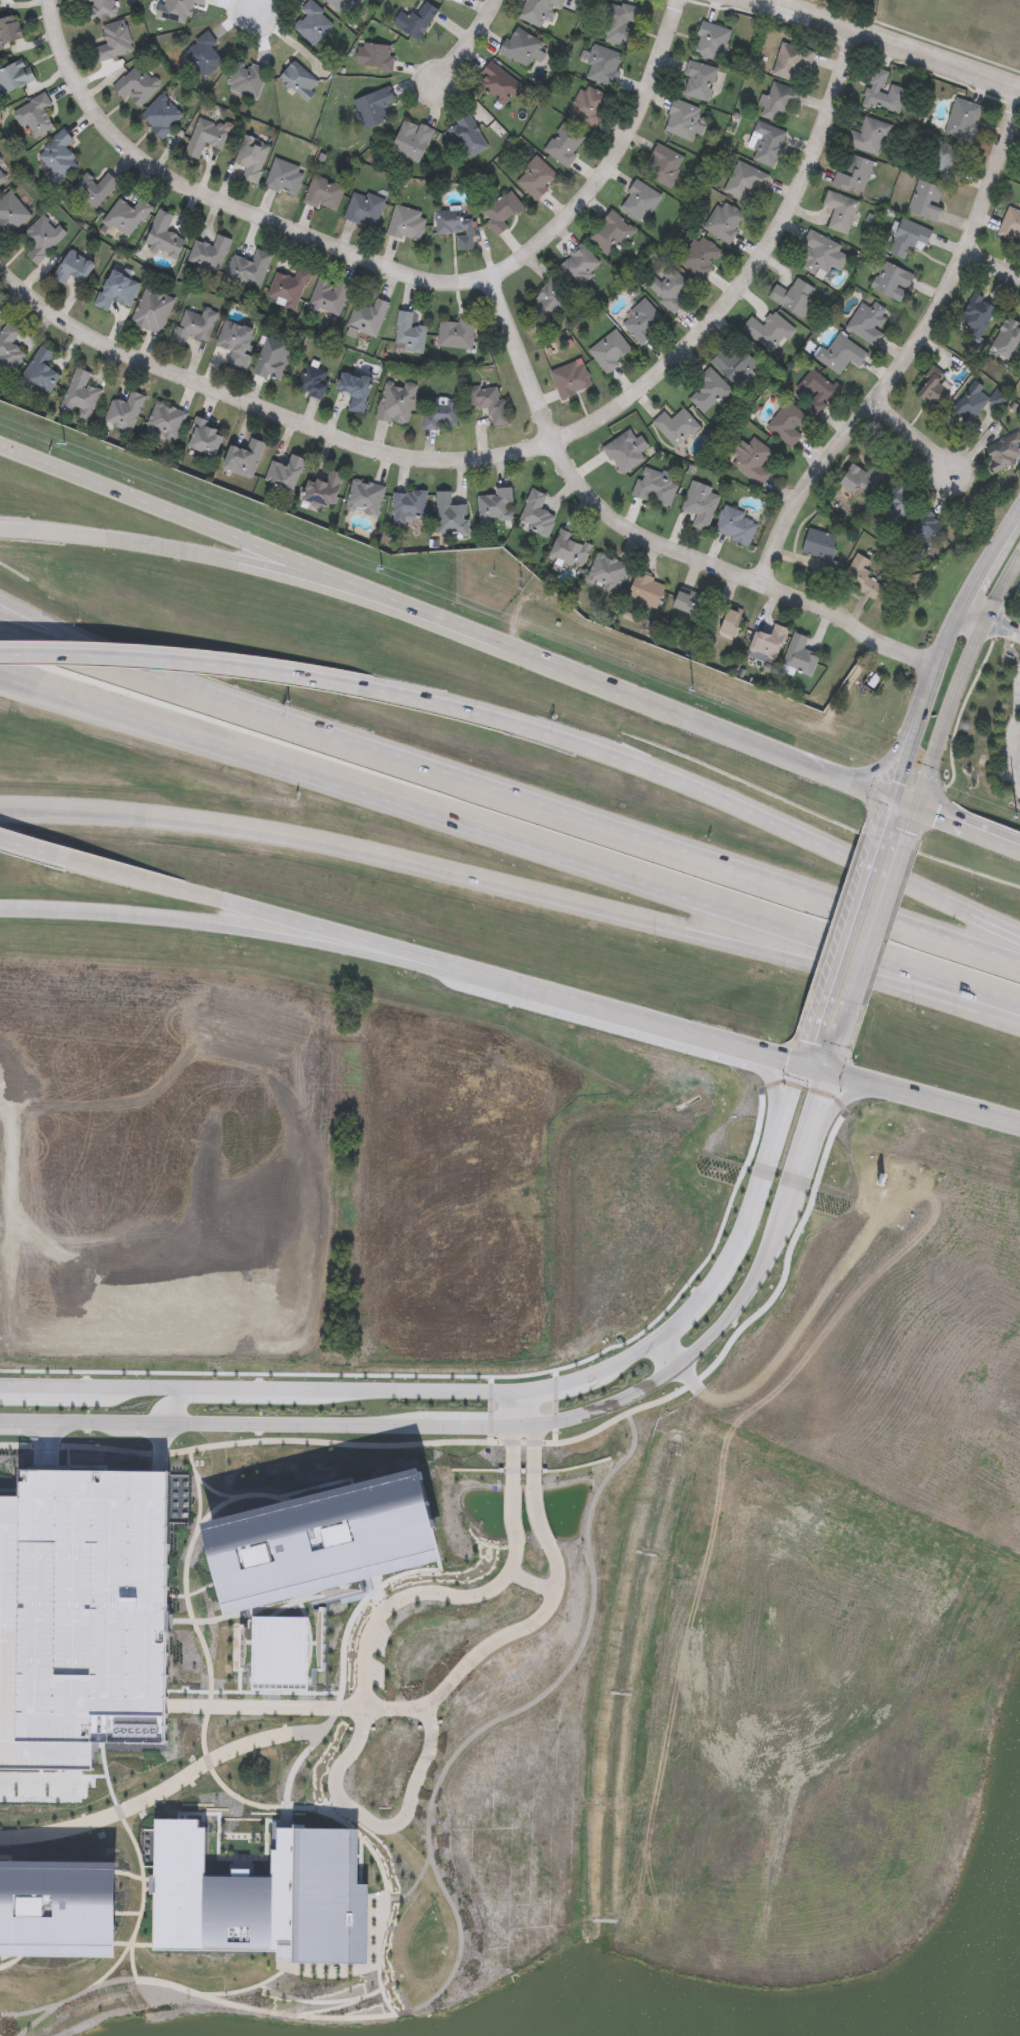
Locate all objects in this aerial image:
road: (762, 0)
road: (260, 6)
building: (538, 10)
building: (619, 25)
road: (888, 42)
building: (712, 43)
road: (466, 46)
building: (790, 61)
building: (603, 66)
building: (699, 82)
building: (882, 96)
building: (962, 121)
building: (869, 137)
building: (943, 160)
building: (854, 176)
building: (926, 202)
building: (840, 213)
building: (822, 256)
road: (993, 263)
road: (383, 264)
building: (73, 267)
building: (116, 289)
building: (152, 309)
building: (867, 323)
building: (193, 326)
building: (9, 345)
road: (905, 350)
building: (40, 370)
building: (80, 395)
building: (395, 402)
building: (488, 402)
building: (124, 411)
building: (439, 414)
building: (164, 421)
building: (204, 437)
road: (910, 438)
road: (518, 451)
building: (243, 458)
building: (283, 473)
building: (321, 490)
building: (364, 497)
building: (406, 506)
building: (449, 515)
road: (1019, 517)
road: (650, 537)
road: (203, 555)
road: (991, 565)
road: (1004, 594)
road: (977, 618)
road: (441, 619)
road: (1005, 628)
road: (946, 647)
road: (97, 648)
road: (96, 655)
building: (800, 657)
road: (97, 662)
road: (925, 701)
road: (948, 735)
road: (900, 757)
road: (618, 759)
road: (883, 764)
road: (1016, 766)
traffic signals: (882, 796)
traffic signals: (924, 809)
road: (876, 815)
road: (951, 820)
road: (607, 832)
road: (506, 843)
road: (33, 848)
road: (510, 889)
road: (255, 930)
road: (837, 937)
road: (877, 949)
road: (543, 992)
road: (1017, 1014)
road: (800, 1052)
road: (839, 1063)
traffic signals: (795, 1066)
road: (769, 1077)
traffic signals: (834, 1079)
road: (846, 1099)
road: (748, 1318)
road: (666, 1353)
road: (512, 1372)
road: (488, 1389)
road: (555, 1396)
road: (178, 1398)
road: (535, 1408)
road: (514, 1411)
road: (594, 1419)
road: (81, 1424)
road: (244, 1443)
road: (496, 1444)
road: (47, 1448)
road: (161, 1450)
road: (534, 1463)
road: (514, 1464)
road: (322, 1488)
road: (198, 1489)
road: (10, 1490)
road: (210, 1490)
road: (541, 1511)
road: (516, 1514)
building: (320, 1567)
road: (532, 1580)
building: (84, 1617)
parking garage: (84, 1617)
road: (203, 1637)
parking lot: (380, 1651)
road: (298, 1702)
road: (502, 1720)
road: (302, 1753)
road: (96, 1779)
road: (176, 1779)
road: (40, 1781)
road: (360, 1813)
road: (244, 1832)
road: (219, 1847)
road: (9, 1859)
road: (237, 1866)
road: (72, 1867)
road: (418, 1883)
road: (385, 1884)
road: (144, 1895)
building: (250, 1901)
road: (130, 1907)
building: (59, 1912)
road: (261, 1947)
road: (133, 1965)
road: (249, 1990)
road: (234, 2004)
road: (322, 2004)
road: (331, 2011)
road: (26, 2015)
road: (37, 2023)

